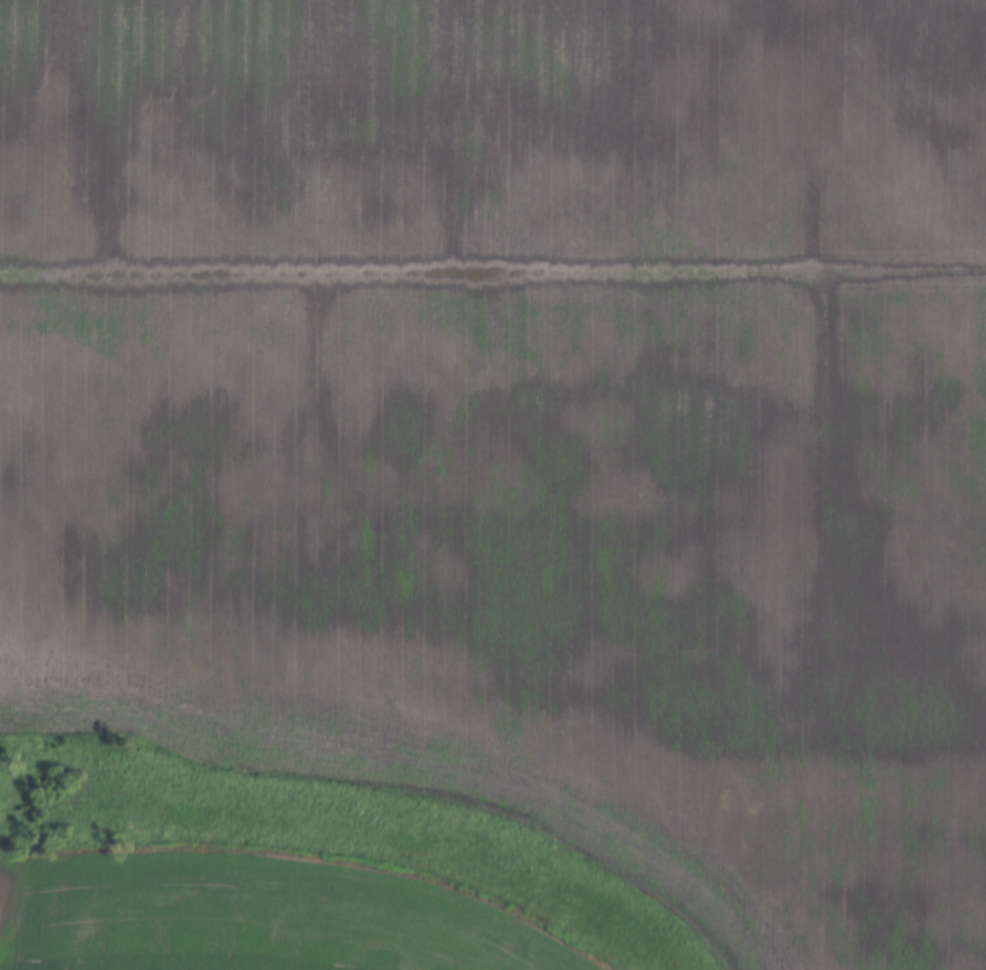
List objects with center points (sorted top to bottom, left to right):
crop: (522, 425)
crop: (247, 920)

